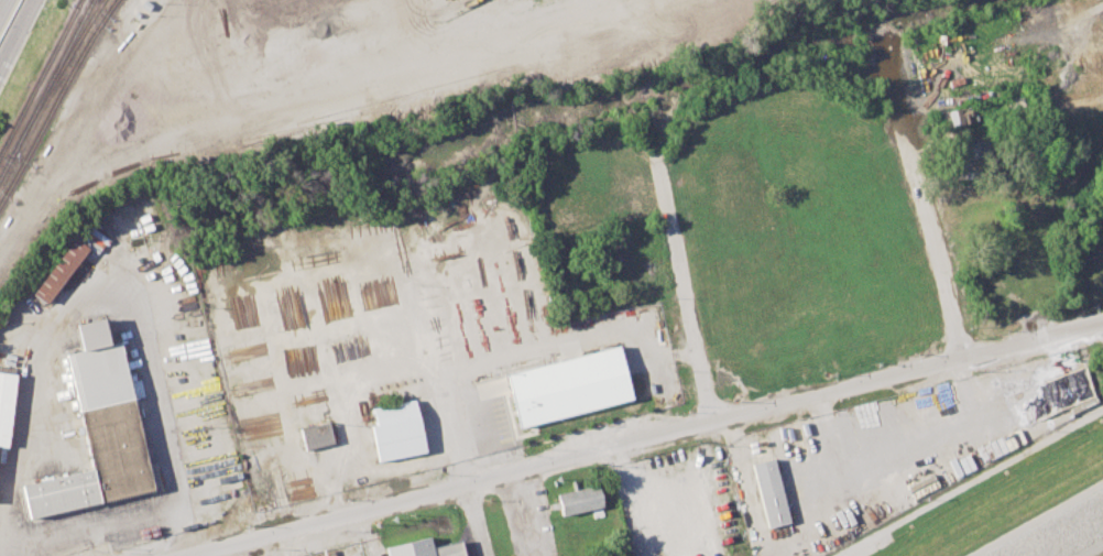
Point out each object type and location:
railway: (92, 0)
railway: (78, 3)
road: (3, 7)
road: (401, 25)
road: (14, 30)
road: (461, 37)
railway: (58, 76)
railway: (40, 77)
railway: (46, 88)
railway: (57, 101)
building: (959, 118)
road: (926, 220)
building: (59, 270)
road: (53, 318)
road: (24, 323)
road: (910, 371)
building: (567, 385)
road: (711, 397)
building: (4, 404)
building: (502, 415)
building: (395, 429)
building: (97, 430)
building: (315, 435)
road: (175, 484)
road: (449, 488)
building: (771, 492)
building: (580, 501)
road: (522, 510)
parking lot: (525, 519)
road: (473, 520)
road: (1040, 521)
road: (368, 533)
road: (285, 543)
building: (421, 547)
road: (290, 555)

